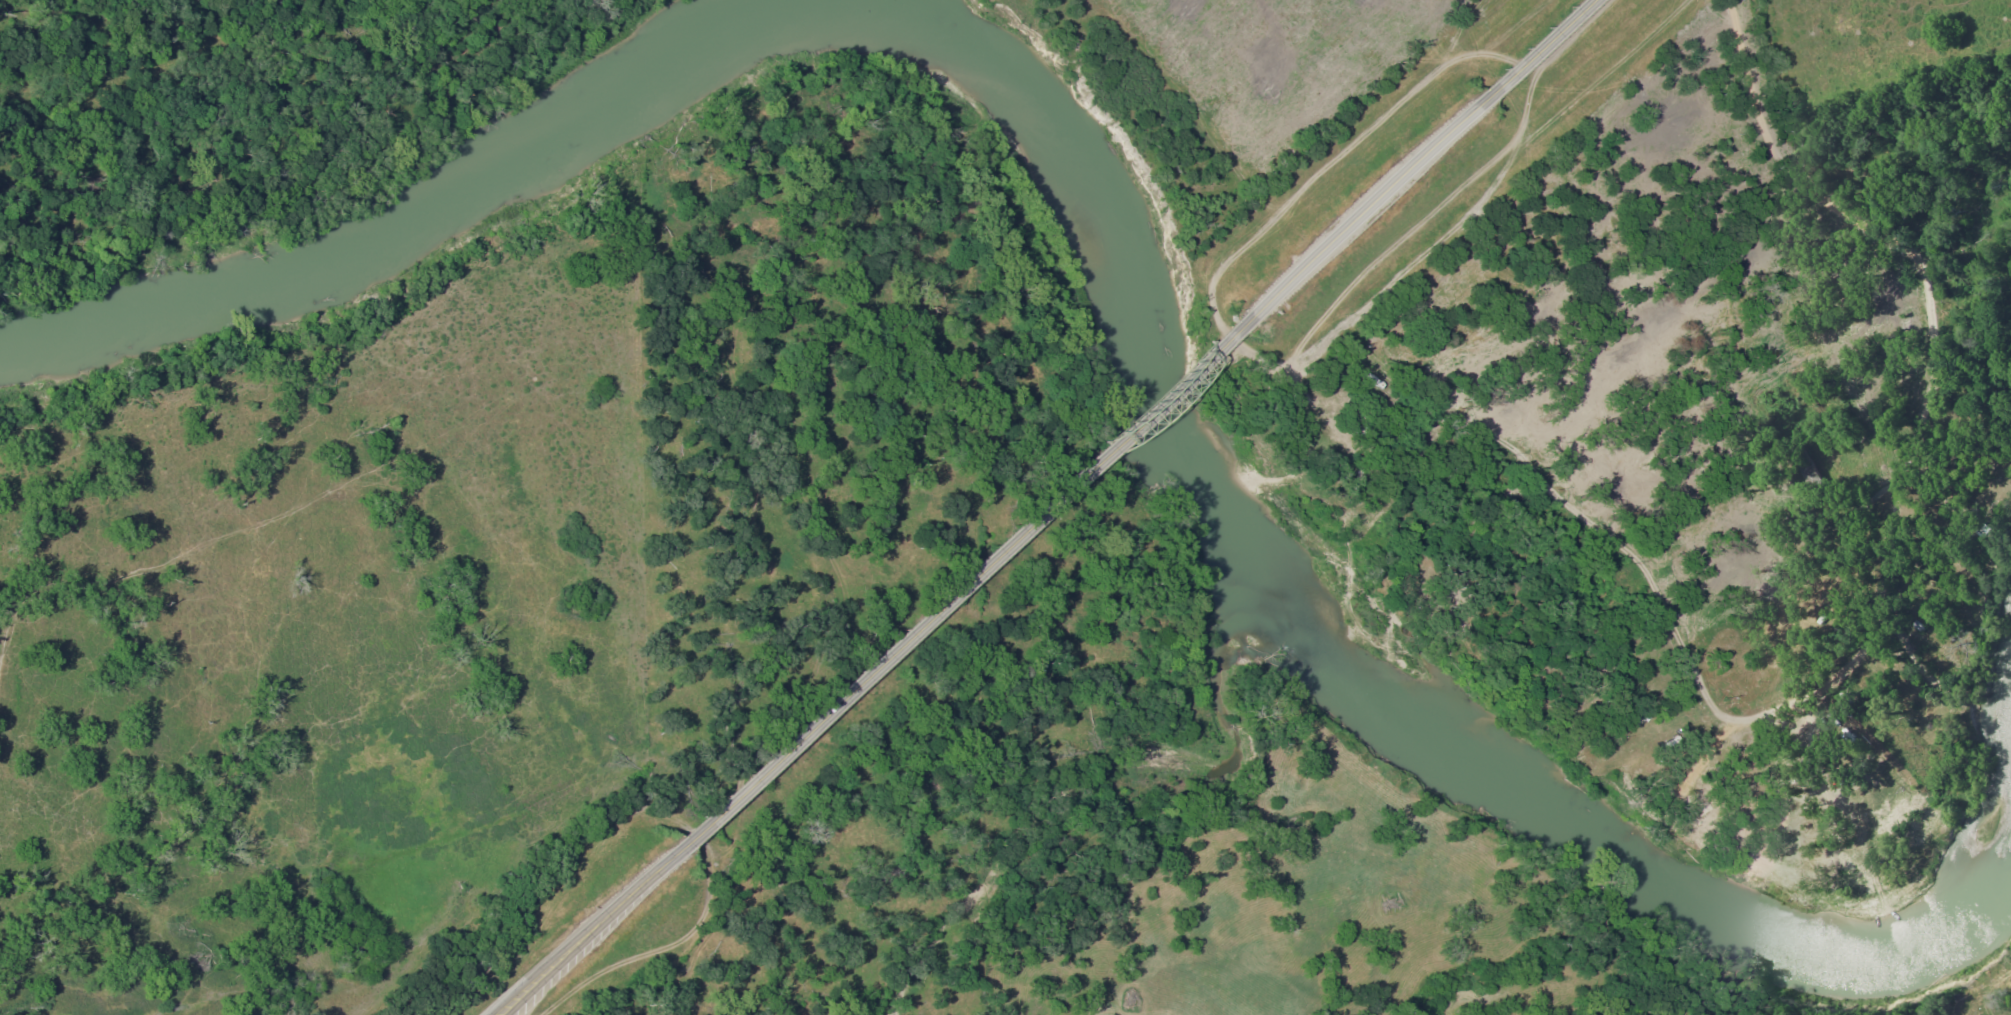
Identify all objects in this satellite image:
road: (1539, 48)
road: (1275, 131)
road: (1368, 207)
river: (425, 215)
road: (1633, 229)
road: (1867, 356)
road: (1364, 459)
road: (966, 581)
river: (1352, 644)
road: (596, 931)

